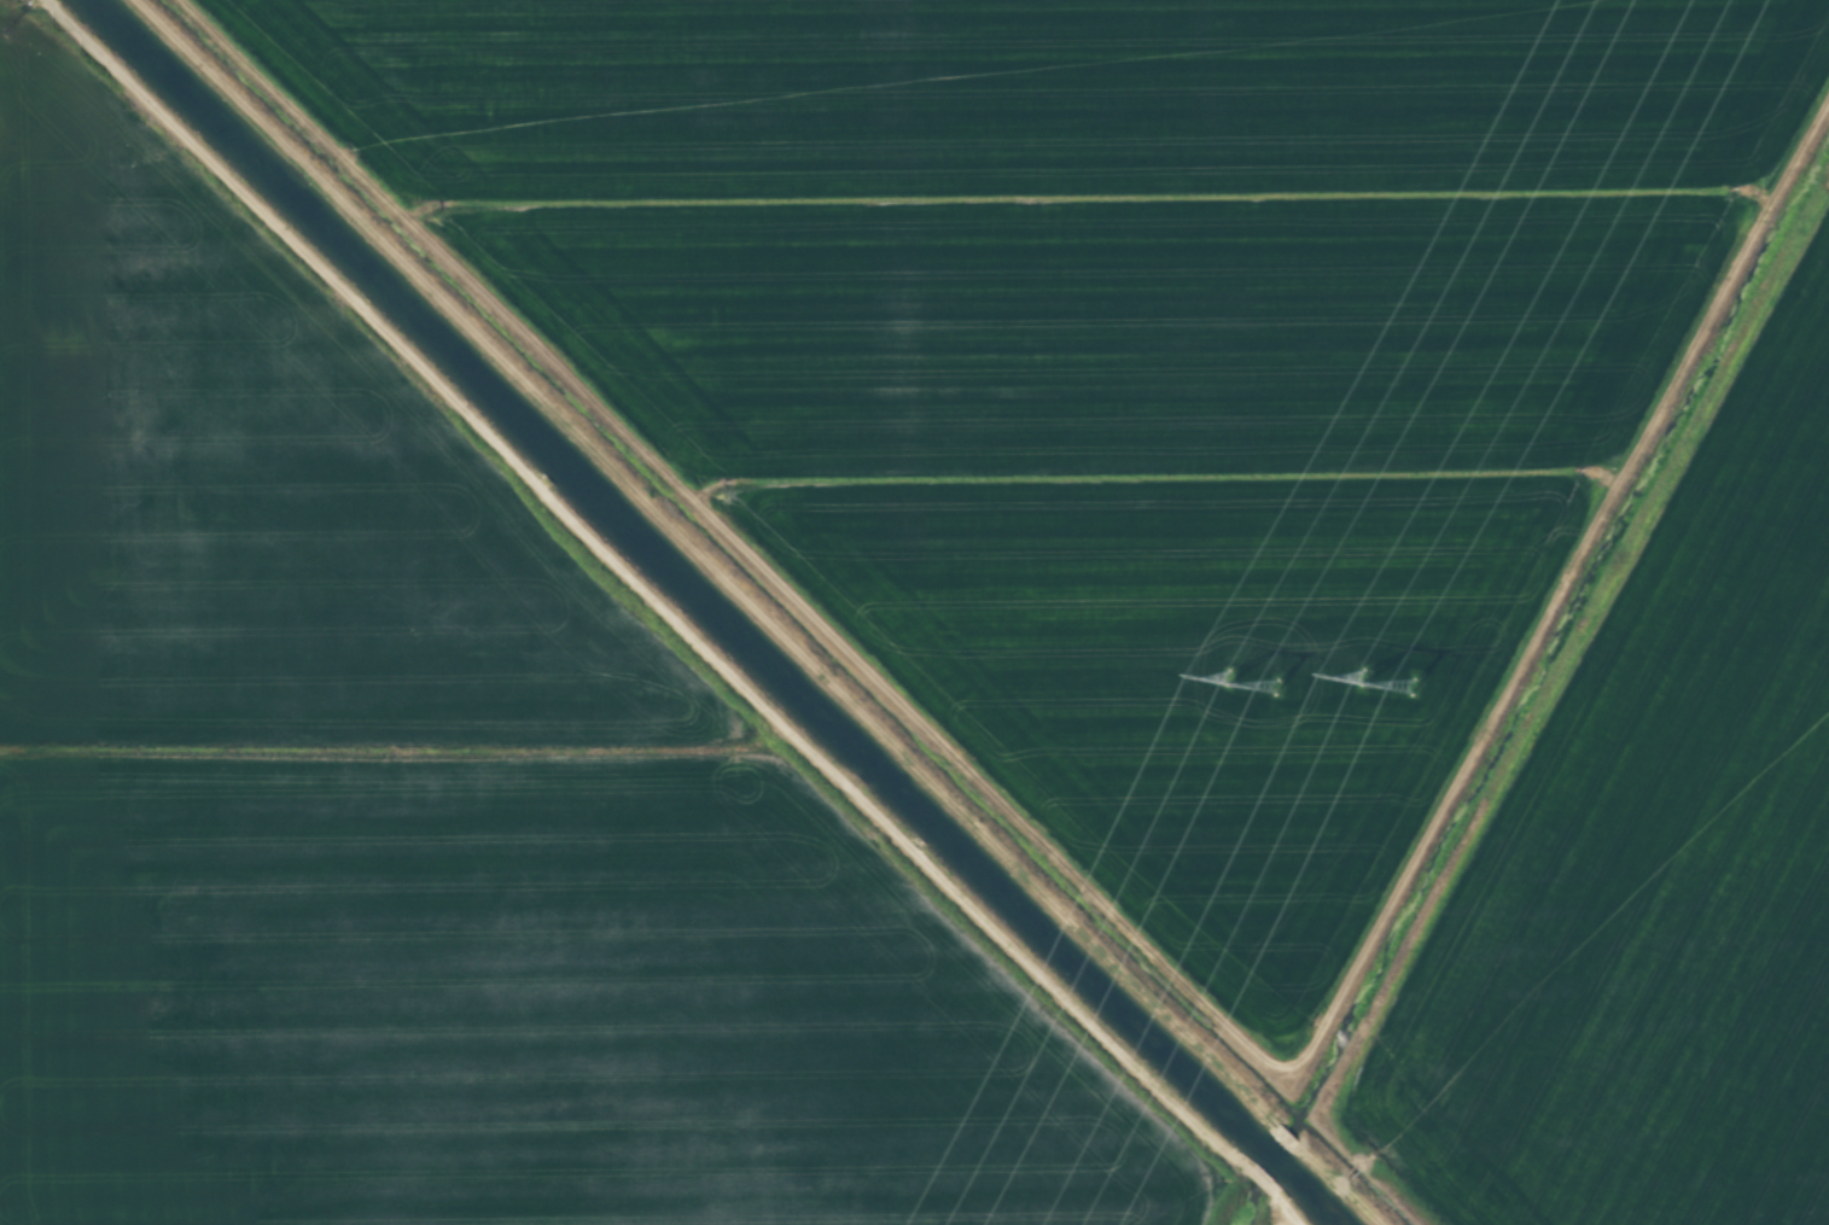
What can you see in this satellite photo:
power tower: (1257, 681)
power tower: (1394, 693)

